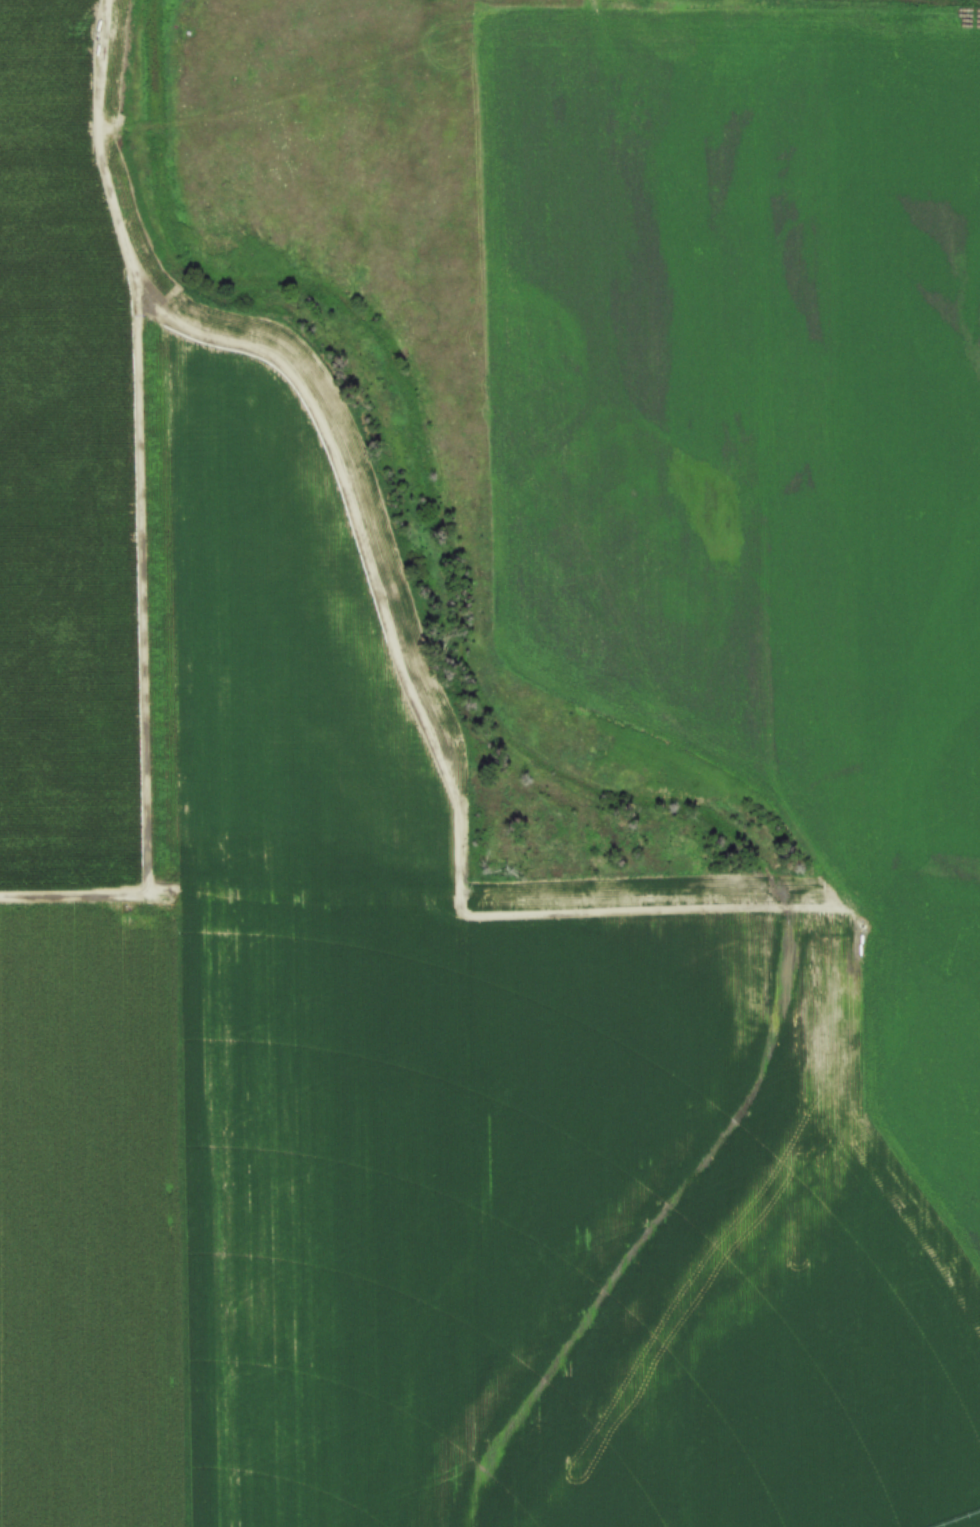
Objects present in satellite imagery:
crop: (780, 610)
crop: (265, 942)

